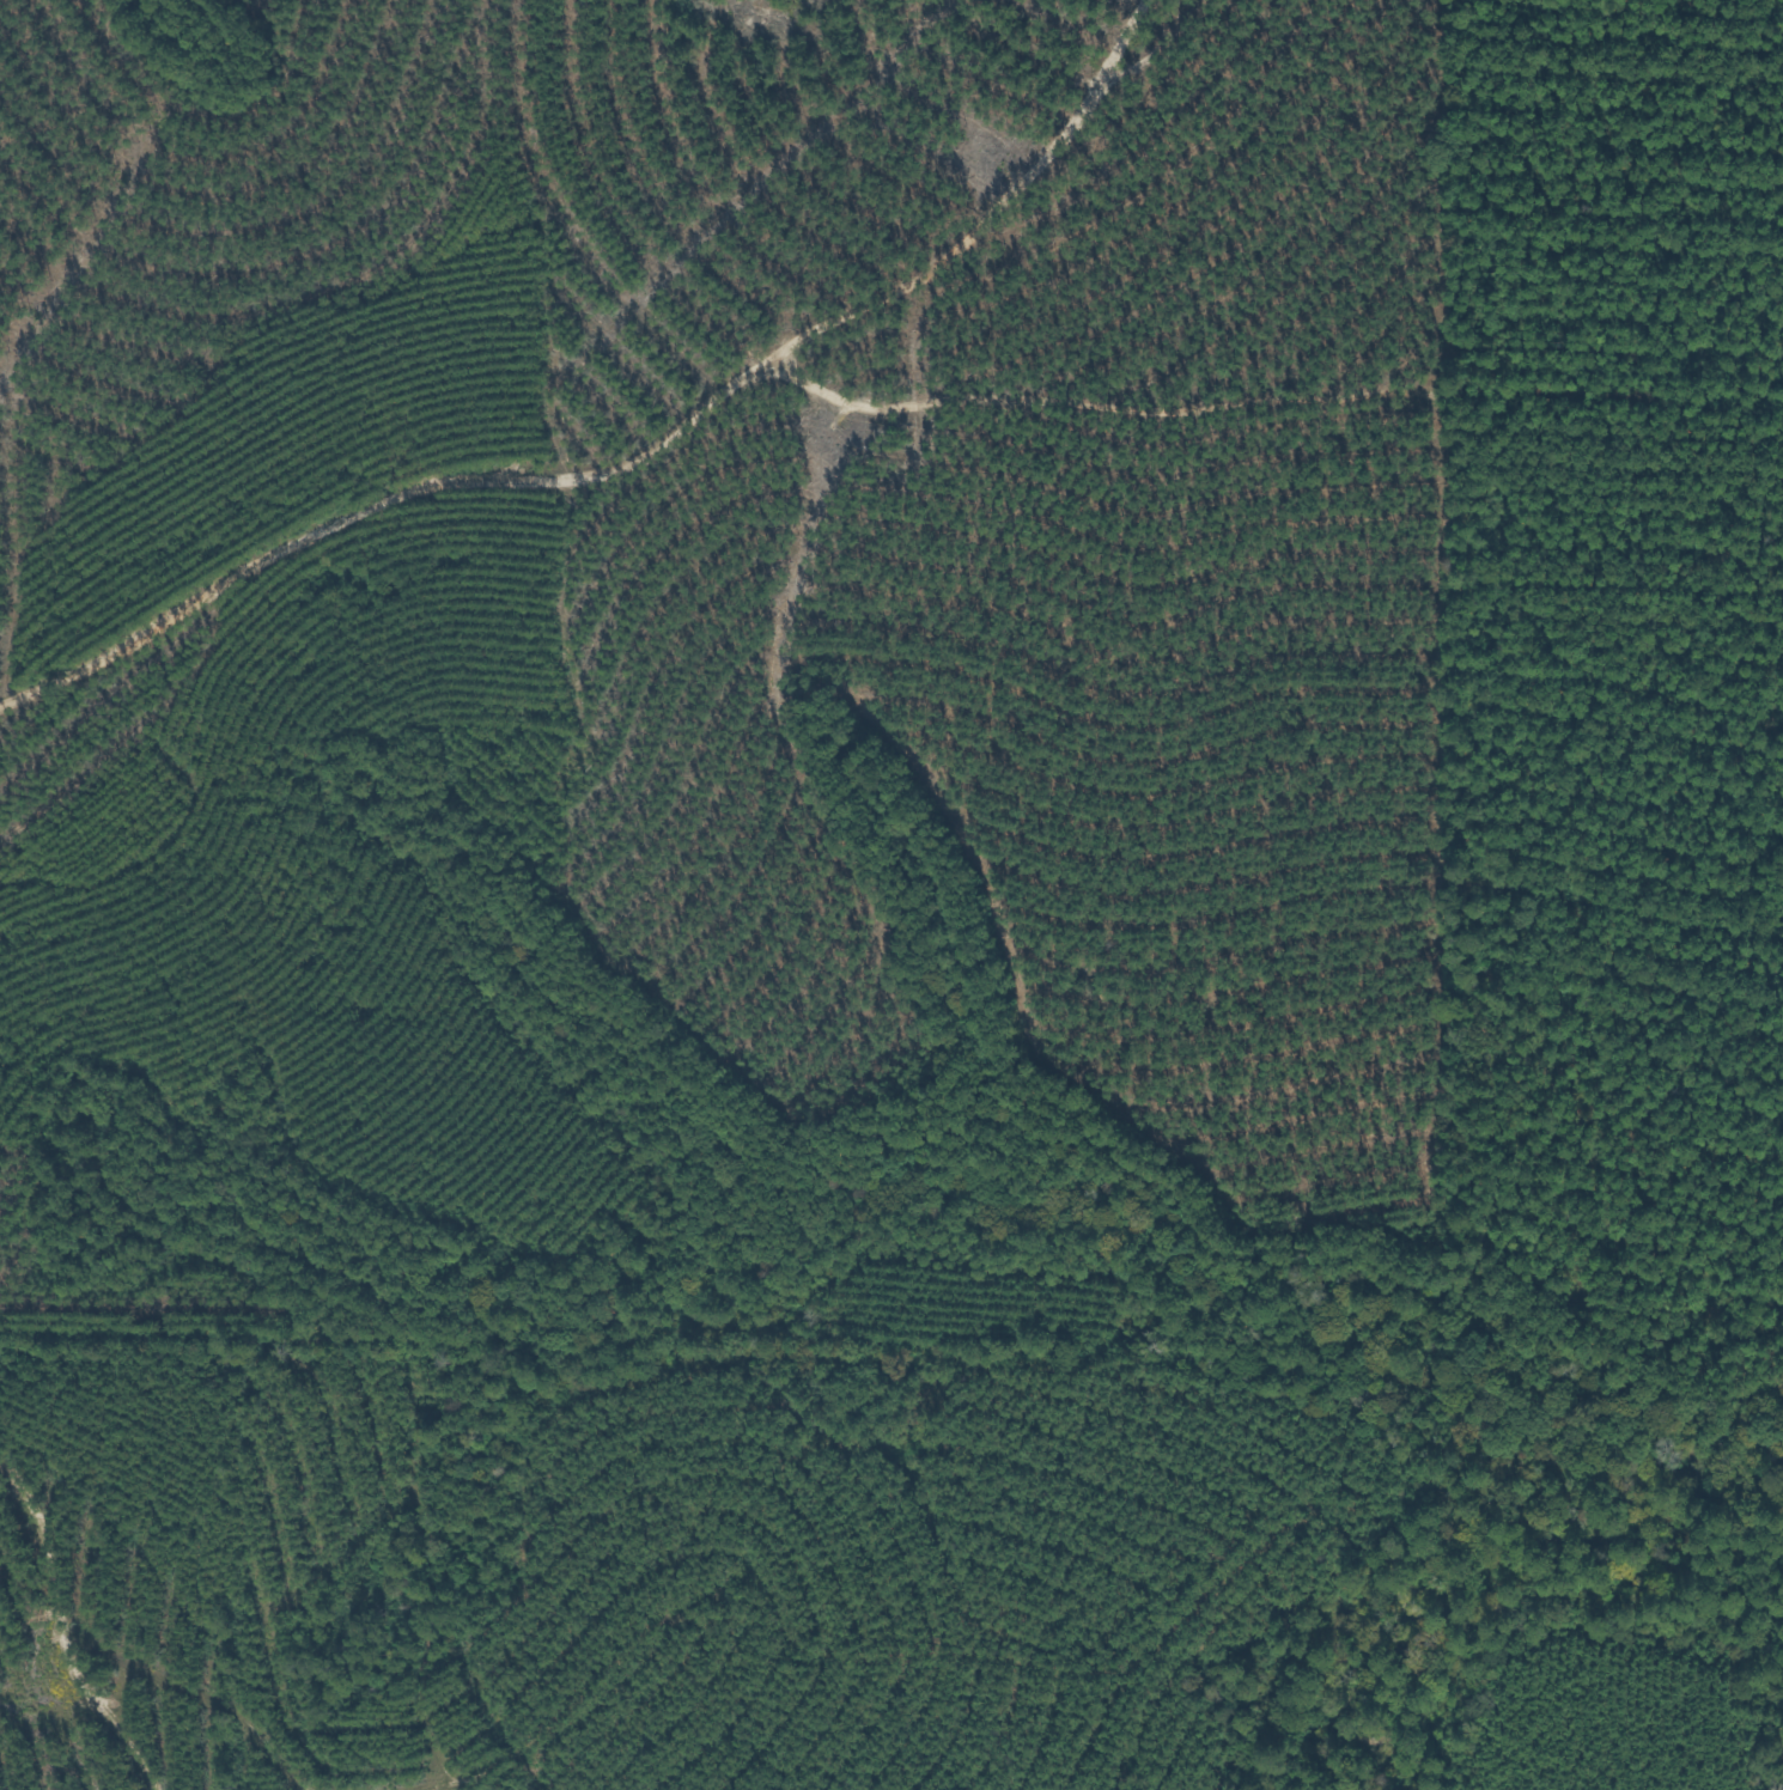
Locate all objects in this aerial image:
road: (620, 449)

